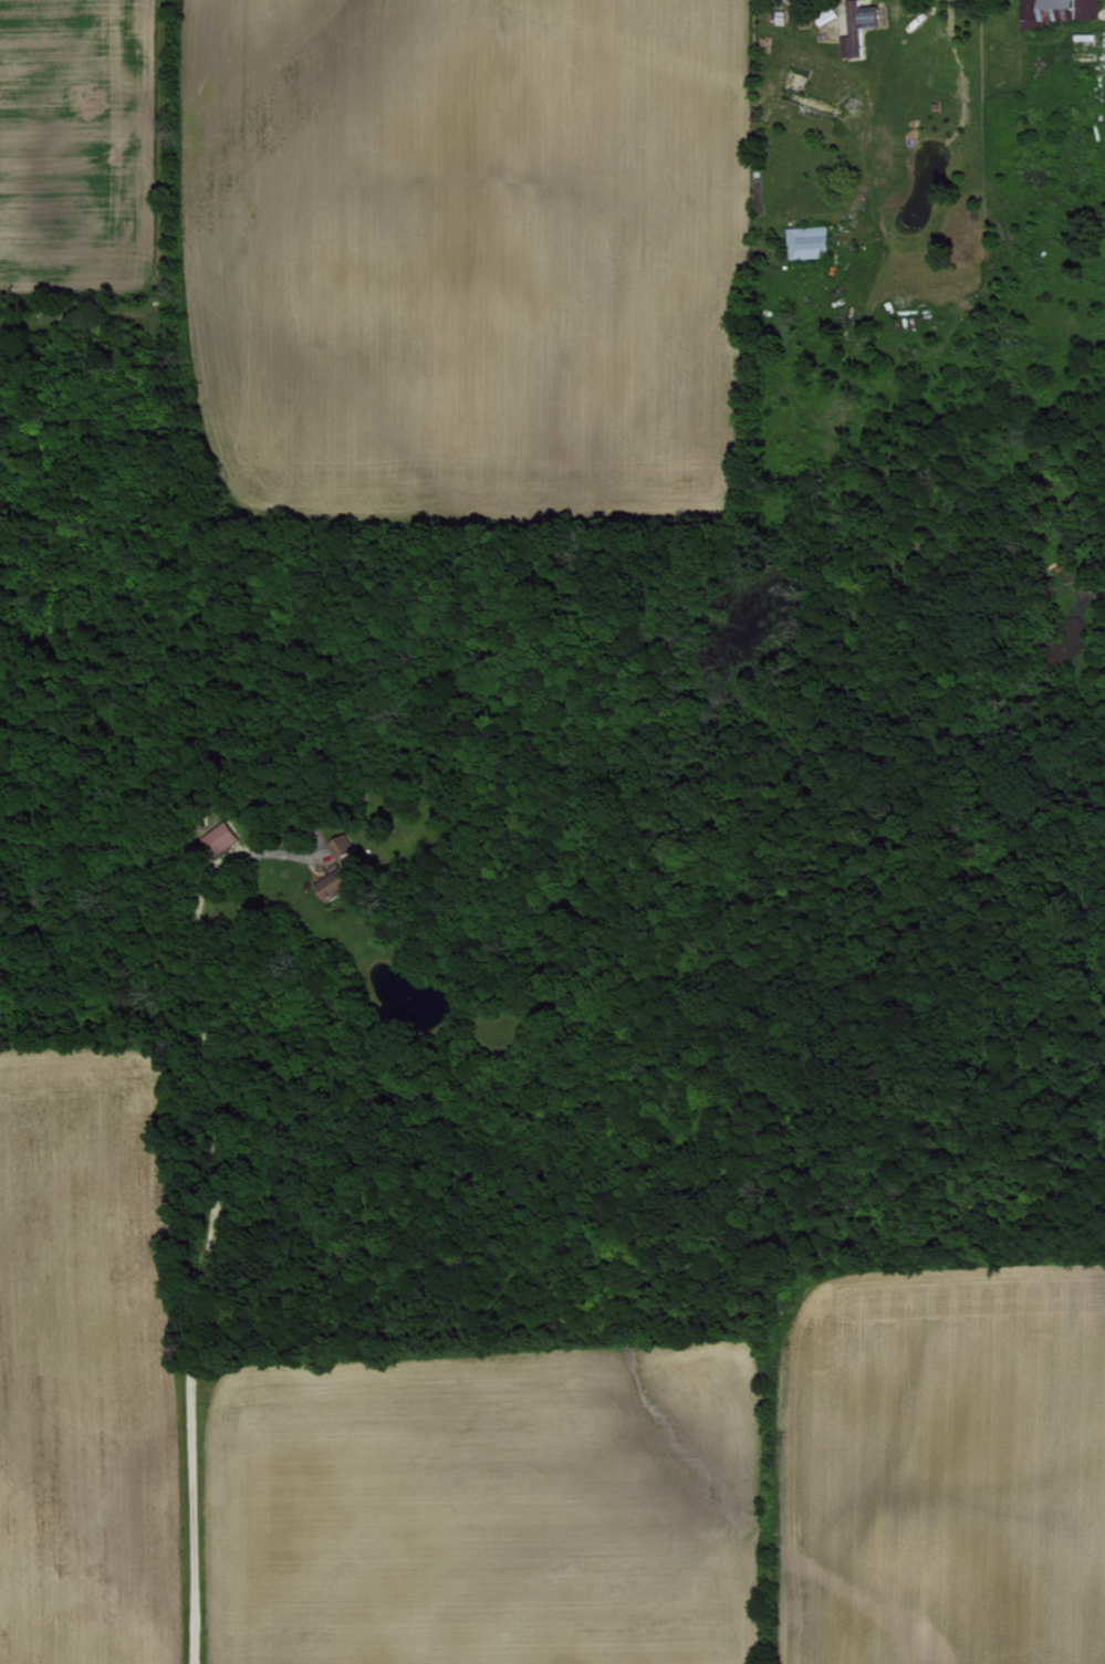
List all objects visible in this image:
building: (1054, 10)
building: (856, 25)
road: (862, 127)
building: (806, 241)
building: (218, 836)
road: (212, 1204)

